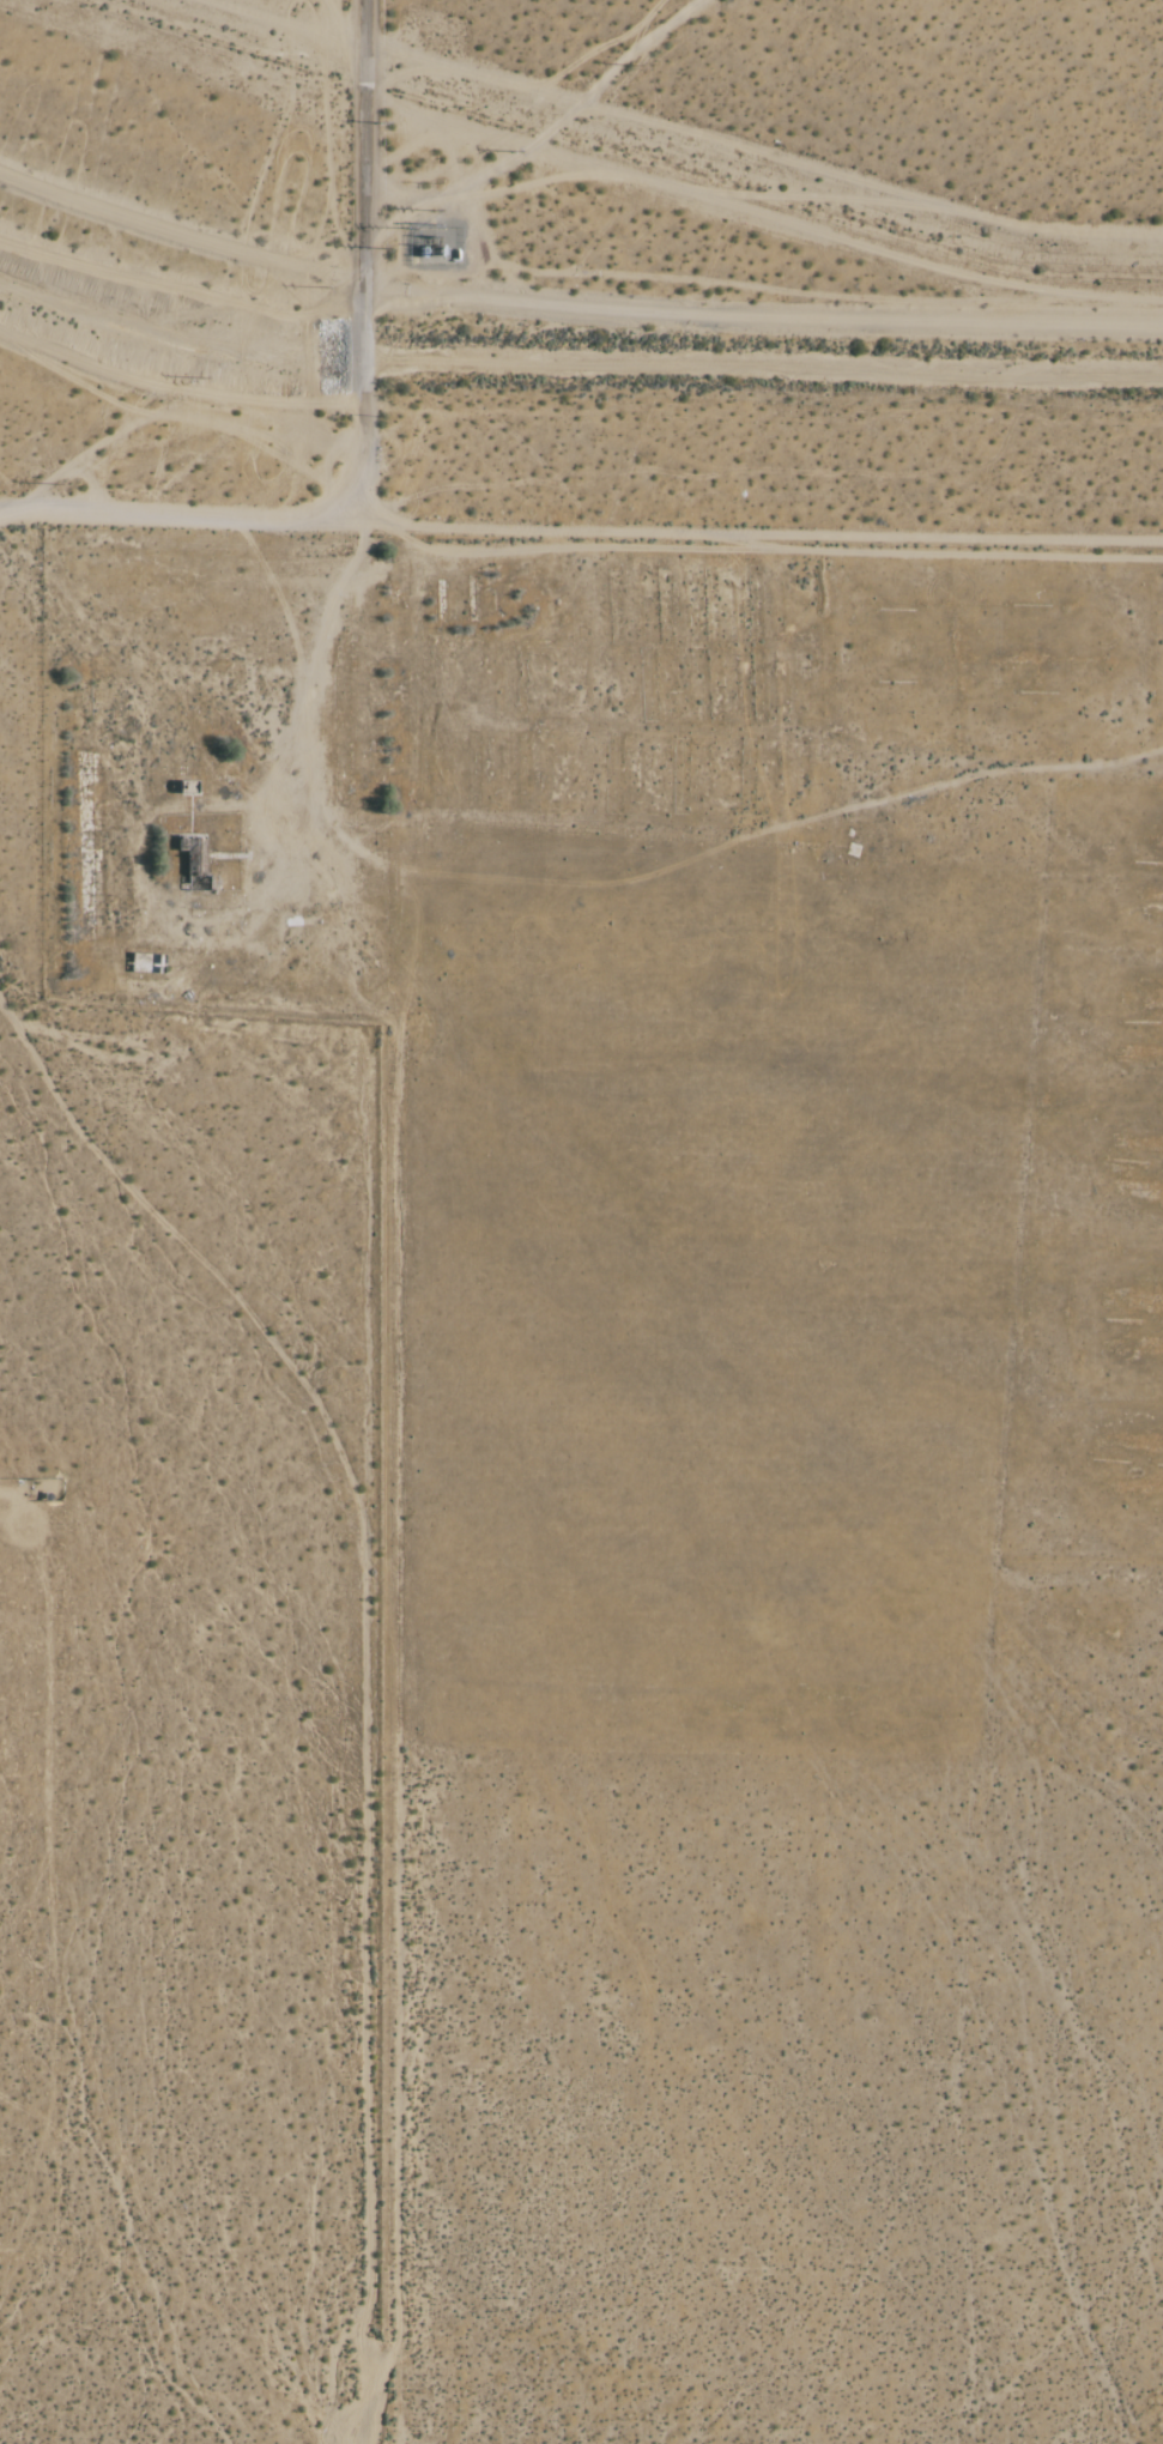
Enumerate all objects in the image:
road: (368, 195)
road: (368, 460)
road: (168, 516)
road: (749, 530)
road: (389, 1726)

